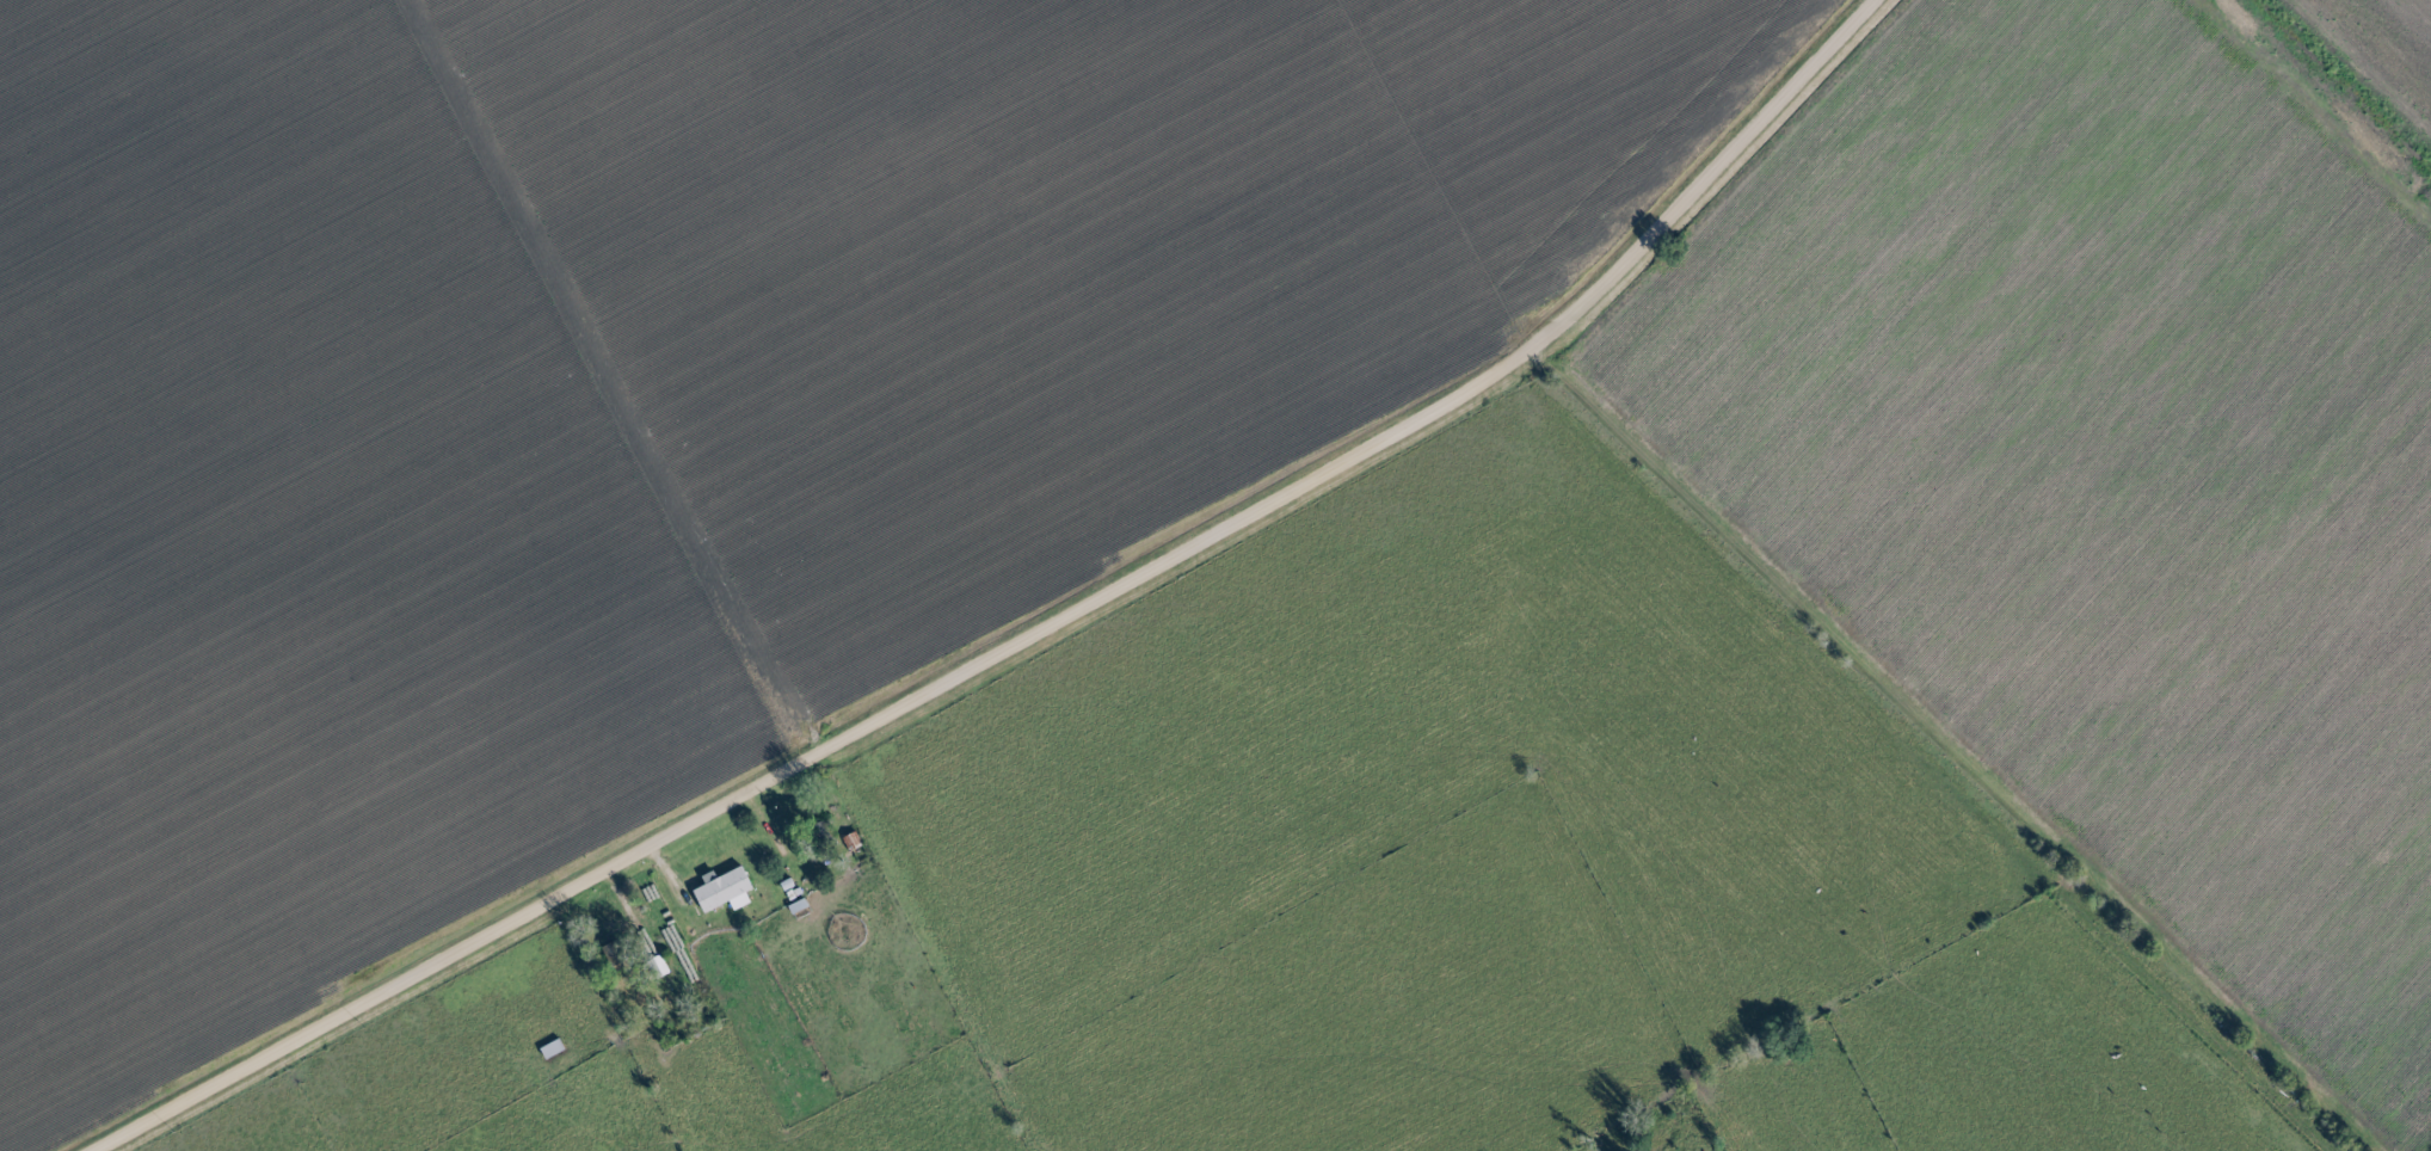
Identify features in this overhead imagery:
road: (1028, 636)
building: (727, 890)
road: (633, 905)

